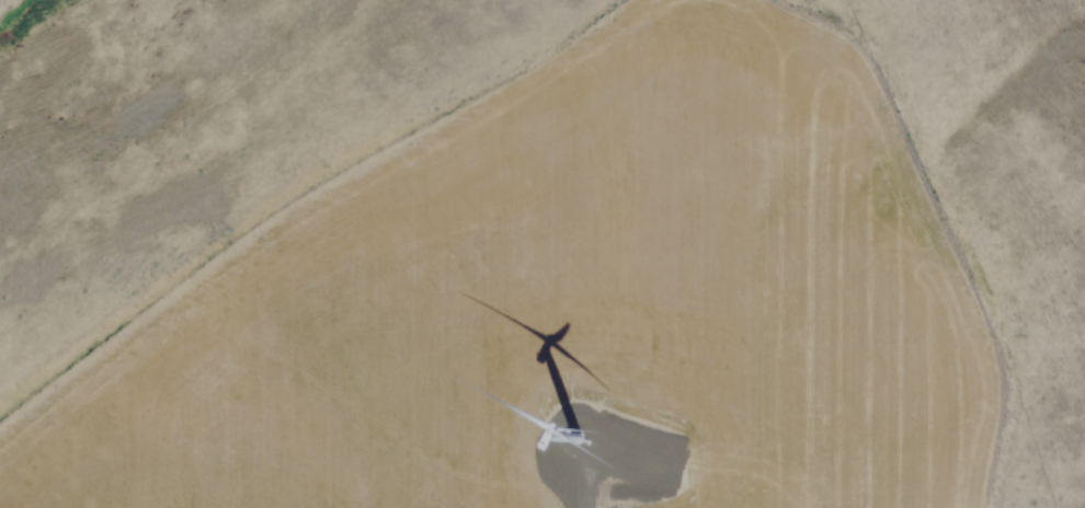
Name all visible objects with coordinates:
wind turbine: (570, 441)
road: (578, 477)

